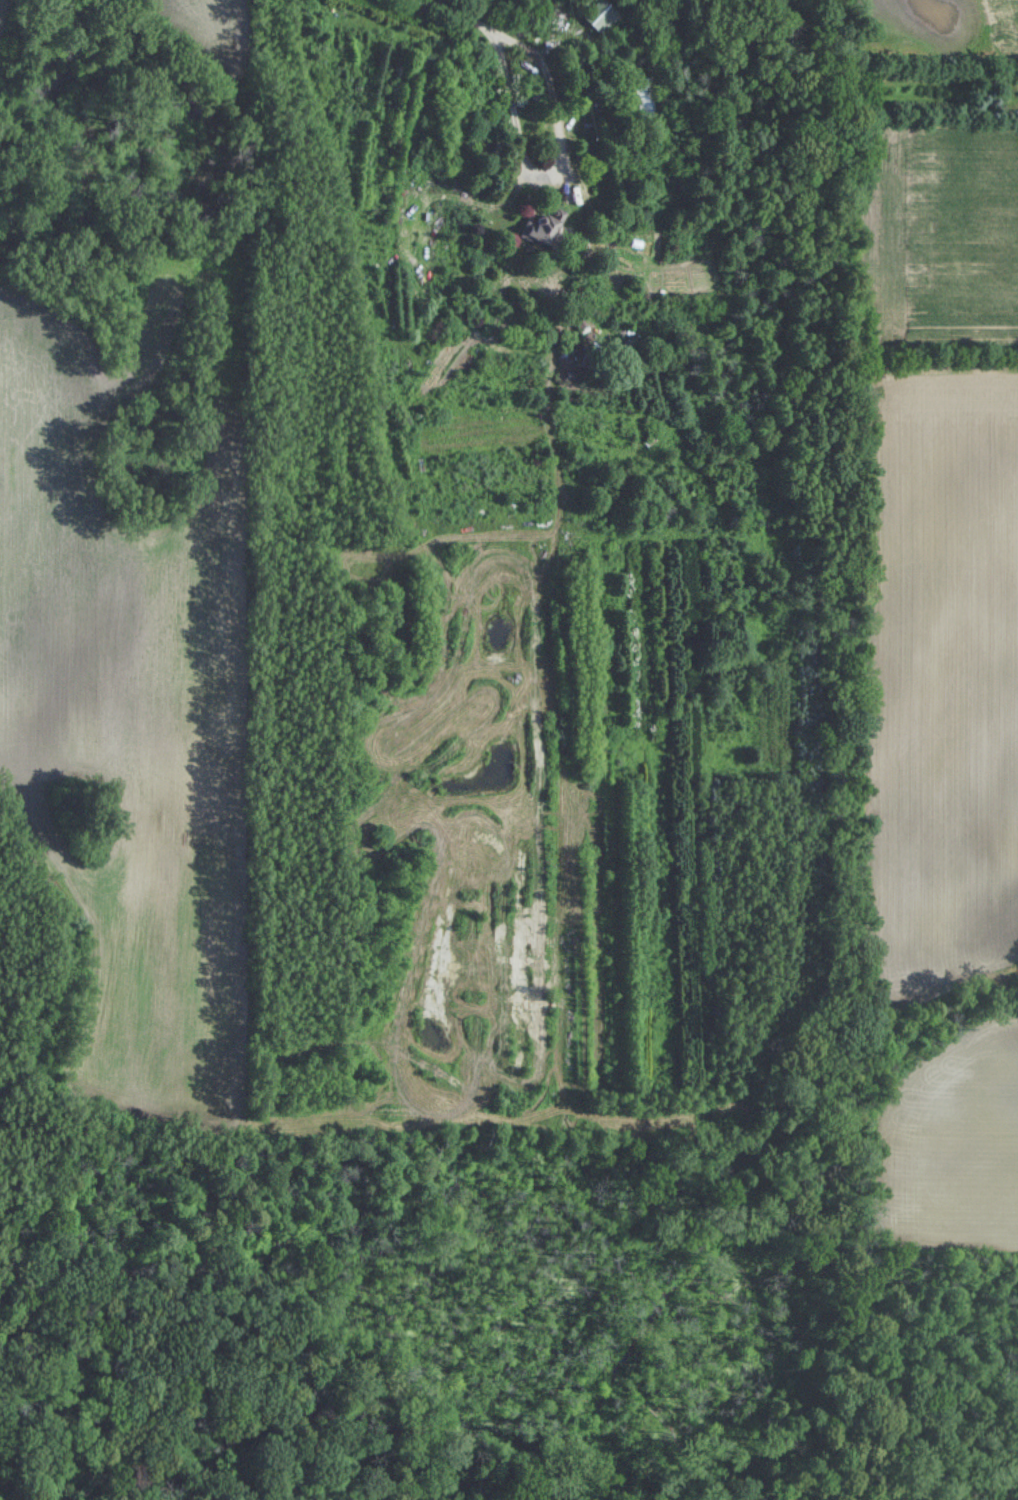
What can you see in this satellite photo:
road: (458, 13)
building: (603, 16)
building: (645, 96)
road: (555, 171)
building: (543, 228)

